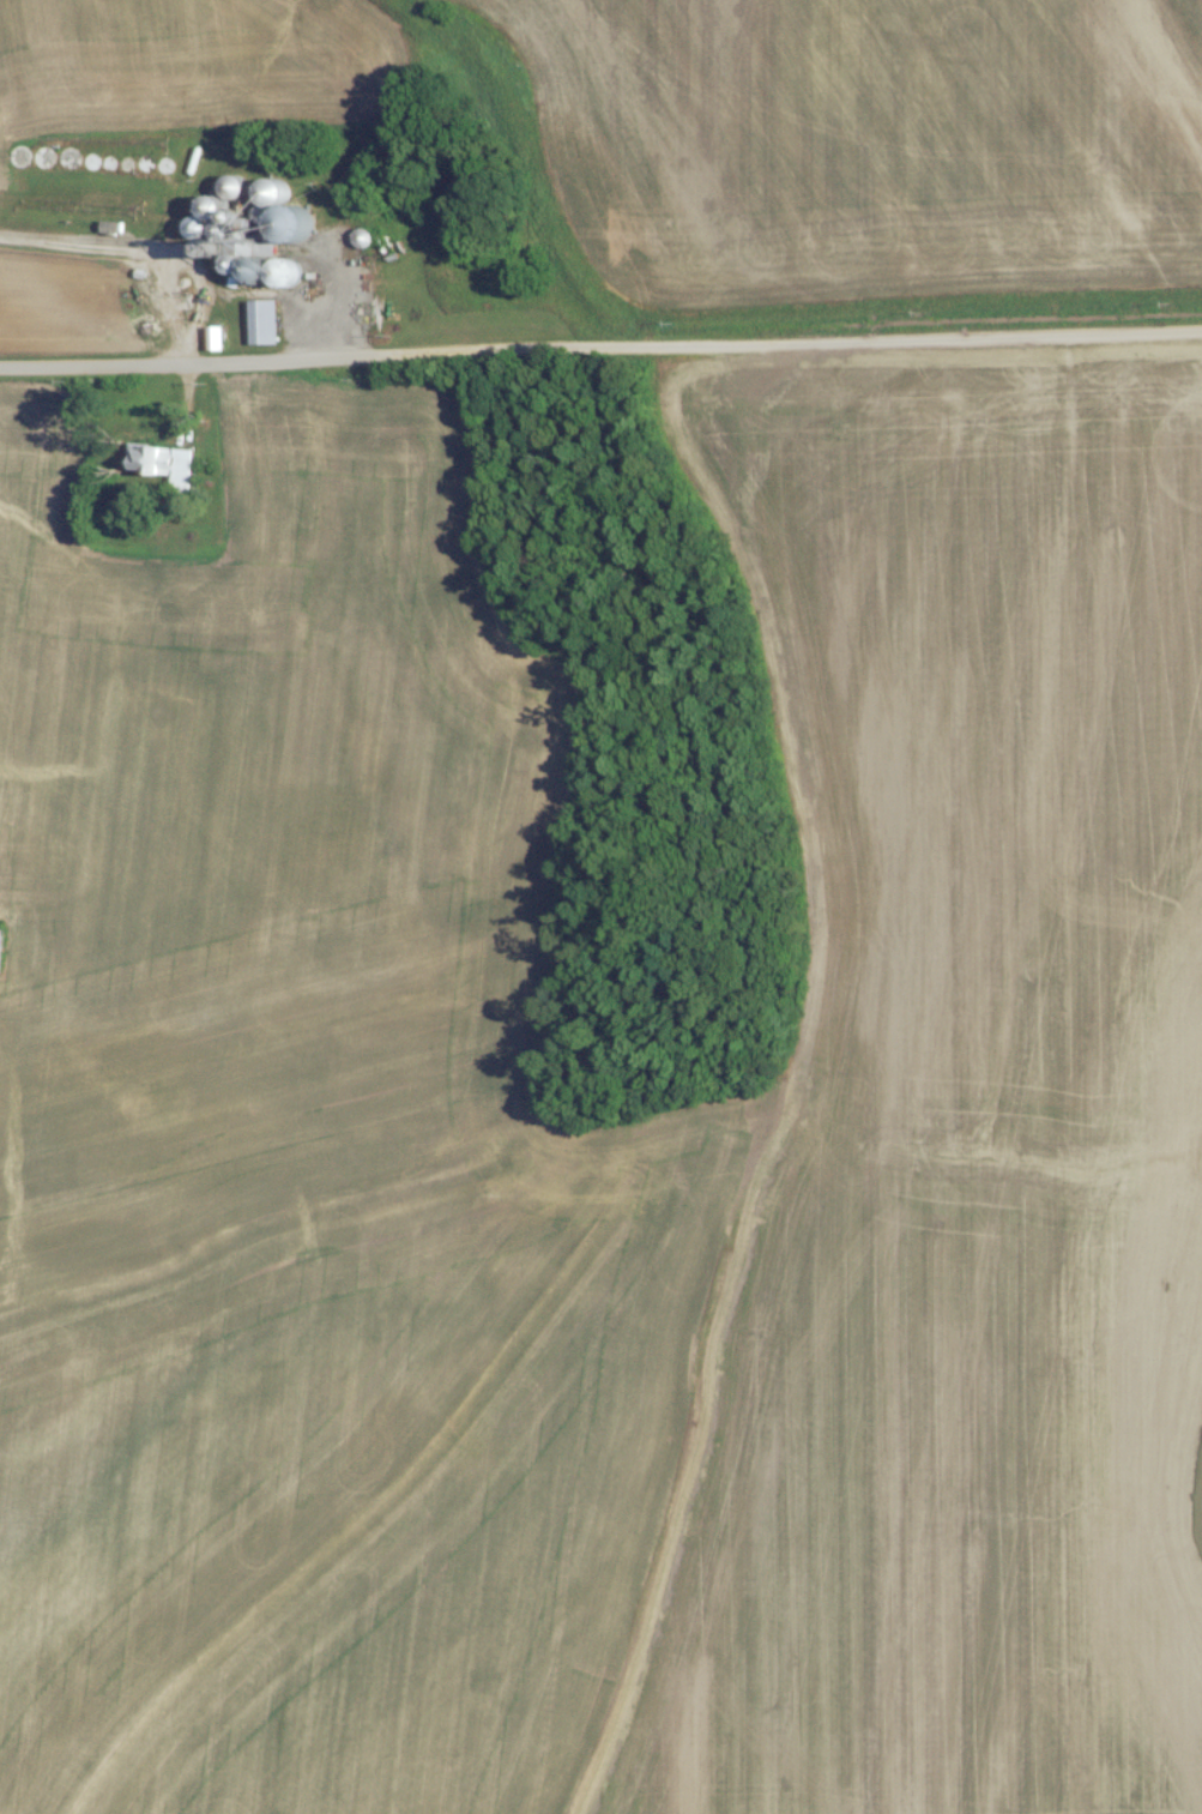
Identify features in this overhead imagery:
road: (153, 249)
building: (266, 329)
road: (600, 351)
road: (182, 410)
building: (180, 472)

